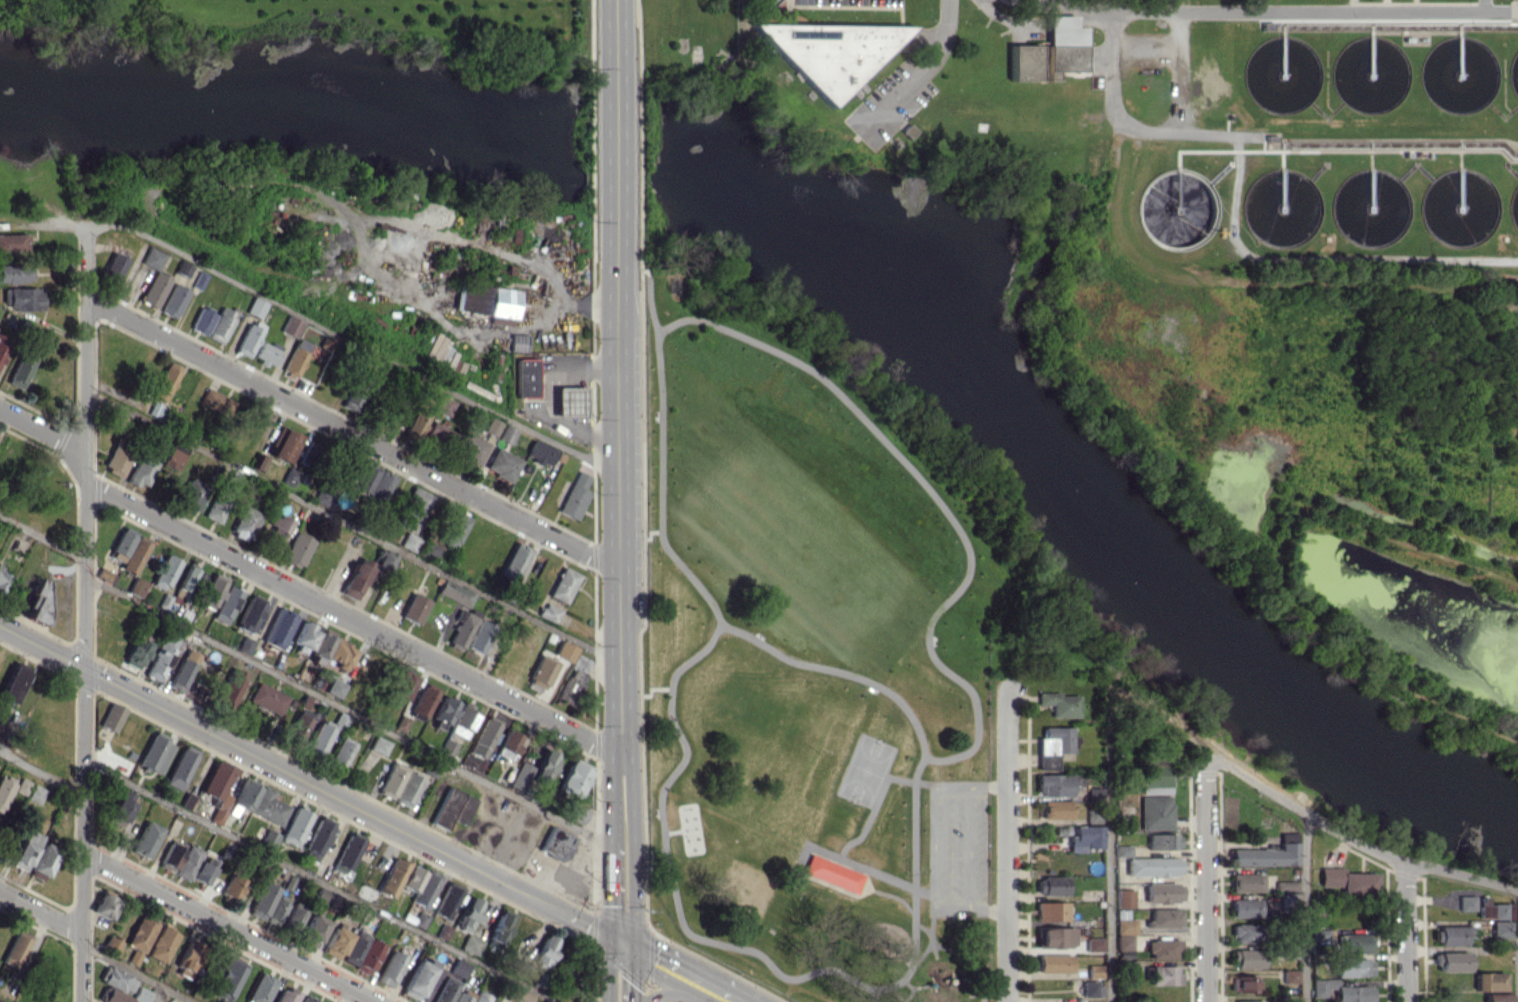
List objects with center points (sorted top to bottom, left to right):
parking lot: (852, 3)
road: (1052, 3)
road: (1483, 5)
road: (1272, 11)
building: (1269, 25)
road: (613, 40)
building: (826, 48)
building: (1052, 51)
road: (925, 64)
parking lot: (890, 96)
river: (280, 112)
road: (1133, 127)
road: (614, 142)
river: (605, 147)
road: (412, 239)
building: (12, 242)
building: (151, 258)
road: (1317, 261)
building: (113, 265)
building: (181, 268)
wastewater plant: (1226, 271)
building: (14, 273)
building: (153, 289)
building: (21, 298)
building: (172, 300)
building: (486, 302)
building: (255, 307)
building: (201, 320)
building: (219, 325)
building: (291, 326)
building: (247, 339)
road: (349, 340)
building: (517, 342)
building: (2, 344)
building: (438, 352)
building: (266, 353)
building: (295, 359)
building: (19, 370)
building: (527, 377)
building: (165, 381)
building: (353, 397)
road: (547, 398)
building: (571, 401)
building: (216, 402)
building: (445, 406)
building: (415, 424)
building: (491, 426)
road: (42, 432)
road: (352, 433)
building: (506, 433)
building: (437, 435)
building: (283, 445)
building: (470, 448)
building: (541, 453)
building: (172, 456)
building: (116, 459)
building: (501, 464)
building: (139, 470)
building: (288, 476)
building: (365, 478)
road: (617, 480)
river: (1088, 483)
building: (380, 485)
building: (190, 495)
building: (574, 496)
building: (322, 498)
building: (218, 502)
building: (412, 508)
building: (244, 522)
road: (352, 527)
building: (454, 529)
building: (274, 530)
road: (42, 539)
building: (409, 541)
building: (121, 544)
building: (295, 549)
building: (133, 554)
building: (383, 559)
building: (513, 562)
road: (1285, 571)
building: (163, 572)
building: (2, 575)
building: (355, 578)
building: (184, 581)
building: (563, 584)
building: (135, 587)
building: (211, 591)
building: (454, 593)
building: (225, 604)
building: (413, 608)
road: (83, 610)
building: (548, 612)
building: (249, 613)
road: (353, 619)
building: (277, 627)
building: (461, 628)
building: (303, 635)
building: (478, 635)
building: (244, 644)
building: (319, 646)
park: (812, 647)
building: (564, 651)
building: (136, 653)
building: (338, 656)
building: (157, 662)
building: (182, 670)
building: (540, 672)
building: (574, 677)
building: (12, 683)
building: (402, 685)
building: (334, 687)
building: (229, 688)
building: (265, 698)
building: (423, 699)
building: (1059, 703)
building: (443, 710)
road: (347, 712)
building: (111, 716)
building: (461, 721)
building: (400, 723)
building: (298, 724)
building: (0, 725)
building: (482, 738)
building: (317, 740)
building: (508, 742)
building: (378, 745)
building: (1052, 746)
building: (446, 748)
building: (154, 753)
building: (339, 753)
road: (266, 761)
building: (180, 767)
park: (867, 770)
building: (532, 772)
road: (41, 773)
building: (573, 777)
building: (1156, 778)
building: (391, 780)
building: (1052, 784)
building: (21, 785)
building: (4, 787)
building: (217, 789)
building: (406, 789)
building: (1086, 793)
building: (34, 794)
building: (241, 797)
road: (935, 805)
building: (120, 806)
building: (267, 806)
building: (451, 807)
building: (1055, 809)
building: (574, 811)
building: (1155, 812)
road: (1306, 813)
building: (294, 826)
building: (317, 836)
building: (1084, 838)
building: (145, 839)
building: (267, 839)
building: (1161, 841)
building: (555, 844)
road: (1007, 844)
parking lot: (957, 848)
road: (968, 848)
building: (25, 849)
building: (348, 850)
road: (631, 850)
building: (1121, 850)
road: (1107, 853)
building: (1267, 853)
building: (170, 855)
building: (41, 861)
building: (186, 861)
building: (1152, 866)
building: (202, 870)
road: (869, 870)
road: (1204, 872)
building: (833, 873)
building: (391, 877)
road: (610, 877)
road: (319, 880)
building: (1347, 881)
building: (1244, 882)
building: (419, 884)
building: (1051, 885)
building: (1285, 885)
building: (231, 887)
building: (1162, 892)
building: (324, 898)
building: (1123, 898)
building: (1286, 898)
building: (262, 900)
building: (447, 900)
building: (1464, 902)
building: (104, 905)
building: (1243, 907)
road: (1303, 907)
building: (276, 909)
road: (964, 910)
building: (1051, 910)
building: (1491, 910)
road: (41, 912)
building: (468, 914)
building: (293, 916)
road: (572, 916)
building: (416, 917)
building: (1163, 918)
building: (1123, 922)
building: (500, 926)
road: (227, 927)
building: (1498, 929)
building: (312, 931)
building: (442, 931)
road: (1404, 931)
building: (140, 933)
building: (1243, 933)
building: (1319, 935)
building: (1448, 935)
traffic signals: (611, 936)
building: (1055, 936)
building: (1122, 941)
building: (334, 942)
building: (1354, 942)
building: (161, 943)
building: (470, 944)
building: (1093, 944)
building: (110, 945)
road: (1516, 946)
building: (354, 947)
traffic signals: (631, 947)
building: (1161, 948)
building: (14, 949)
building: (545, 951)
building: (368, 956)
building: (132, 957)
building: (1245, 958)
building: (187, 959)
building: (1450, 961)
building: (1054, 963)
building: (1352, 966)
building: (458, 967)
building: (390, 968)
road: (676, 969)
building: (1093, 971)
road: (137, 974)
road: (631, 974)
building: (1163, 974)
building: (1287, 975)
building: (417, 978)
building: (116, 979)
building: (227, 979)
building: (1487, 981)
building: (1242, 983)
building: (260, 988)
building: (1091, 988)
building: (445, 989)
building: (1339, 991)
road: (682, 992)
road: (157, 993)
building: (518, 994)
building: (141, 995)
building: (284, 995)
building: (4, 996)
building: (112, 996)
building: (459, 997)
building: (480, 997)
building: (1495, 997)
building: (308, 999)
building: (1246, 1001)

